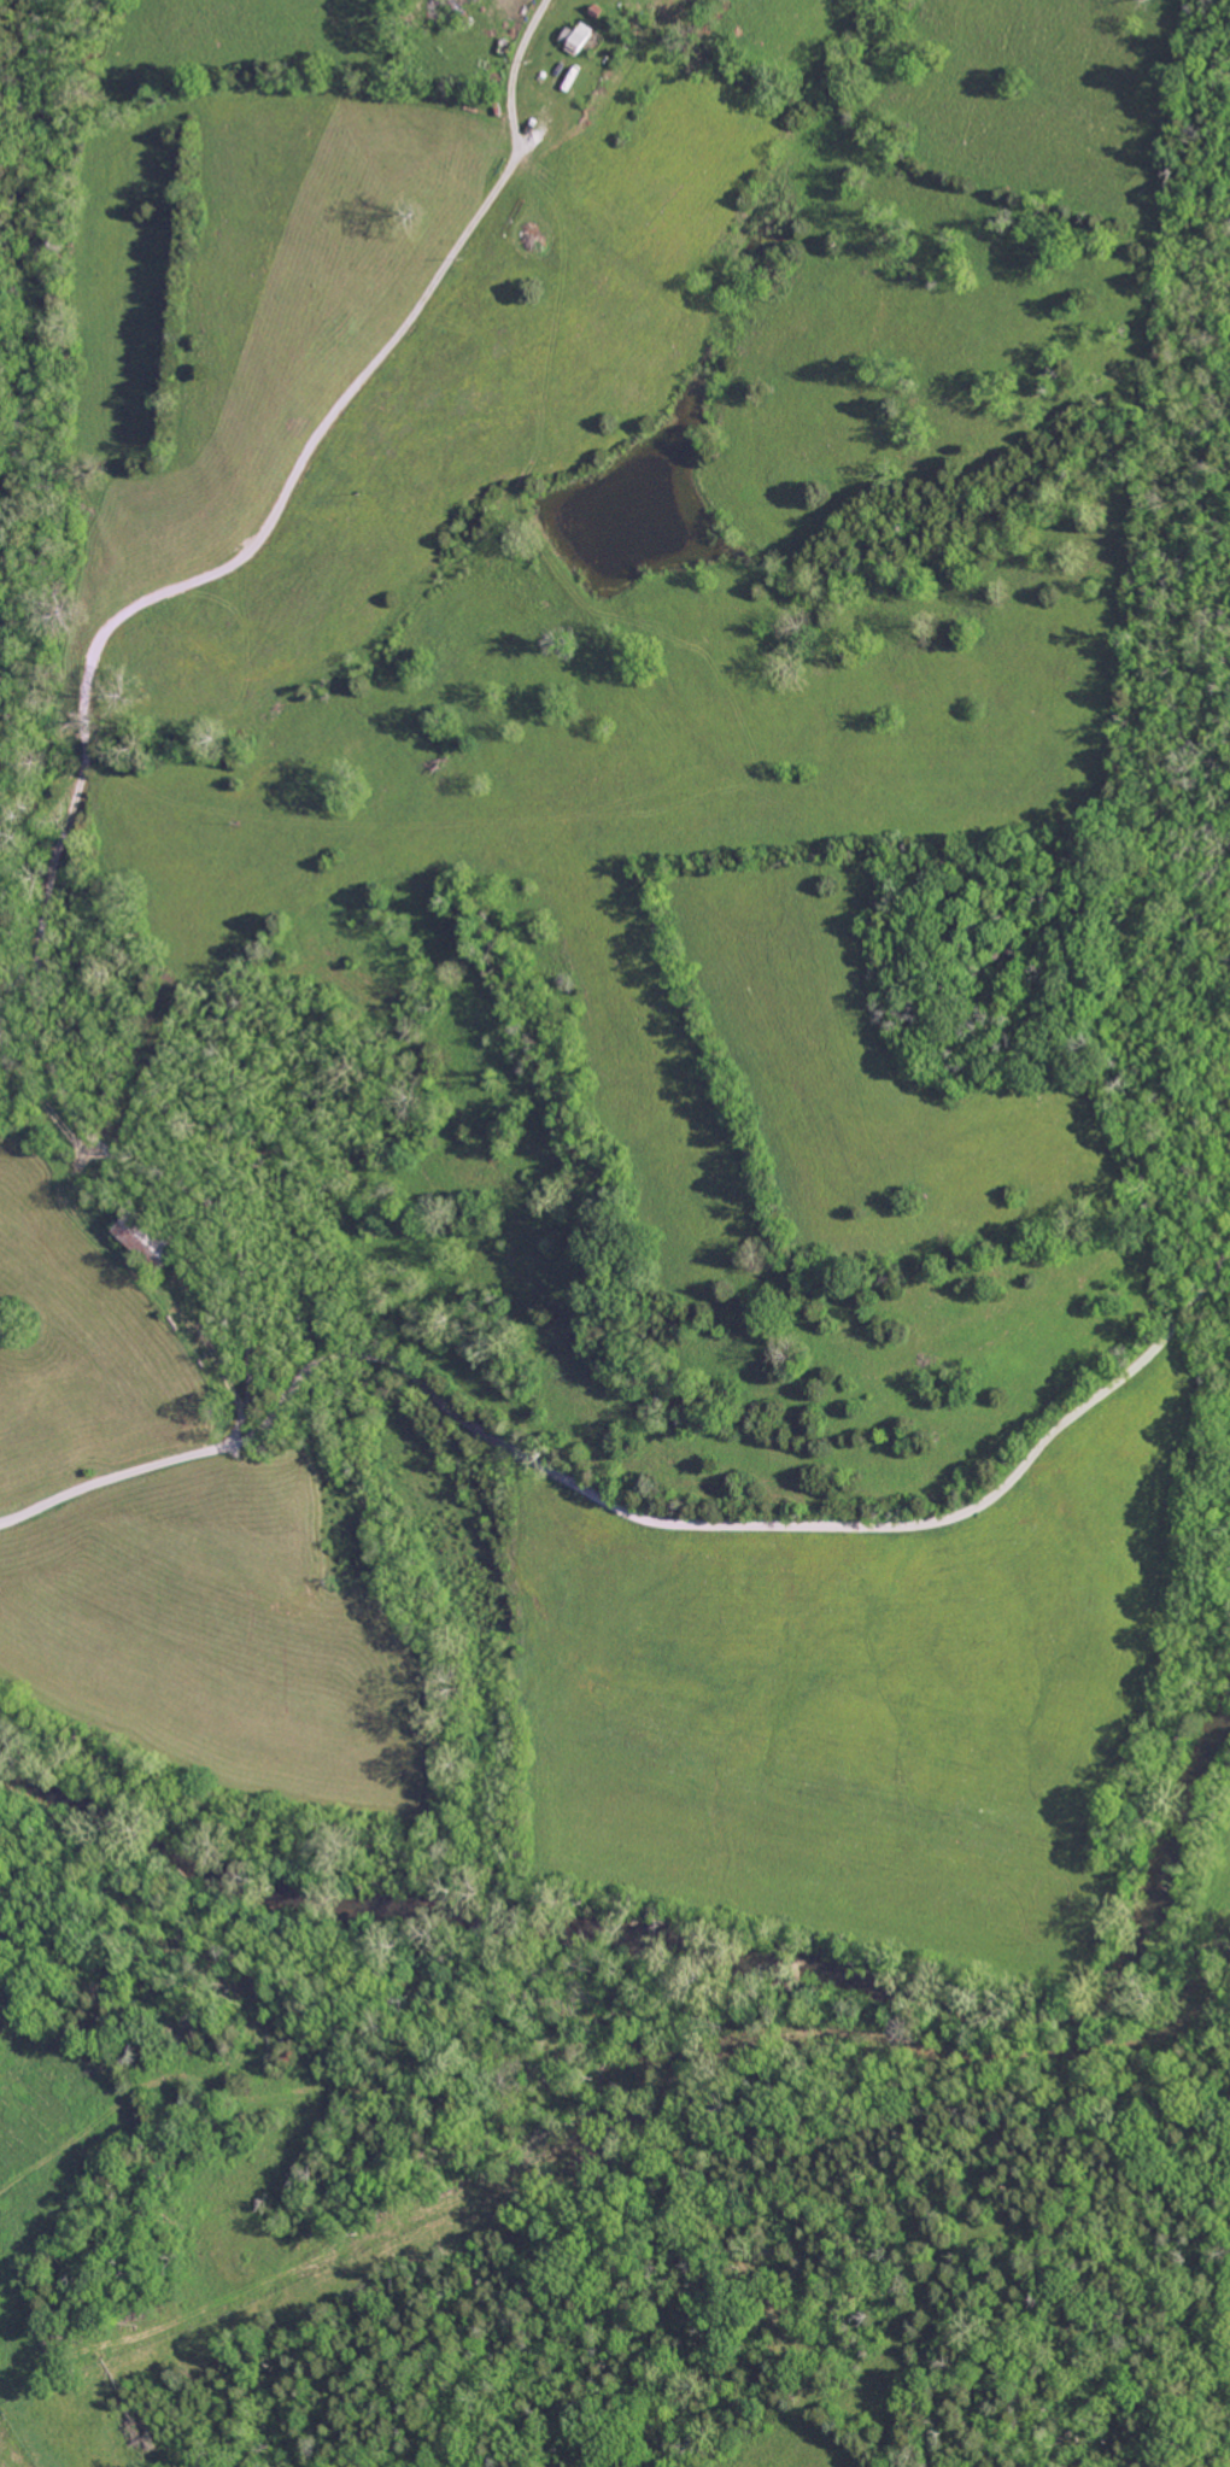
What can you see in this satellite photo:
building: (575, 36)
road: (193, 1190)

